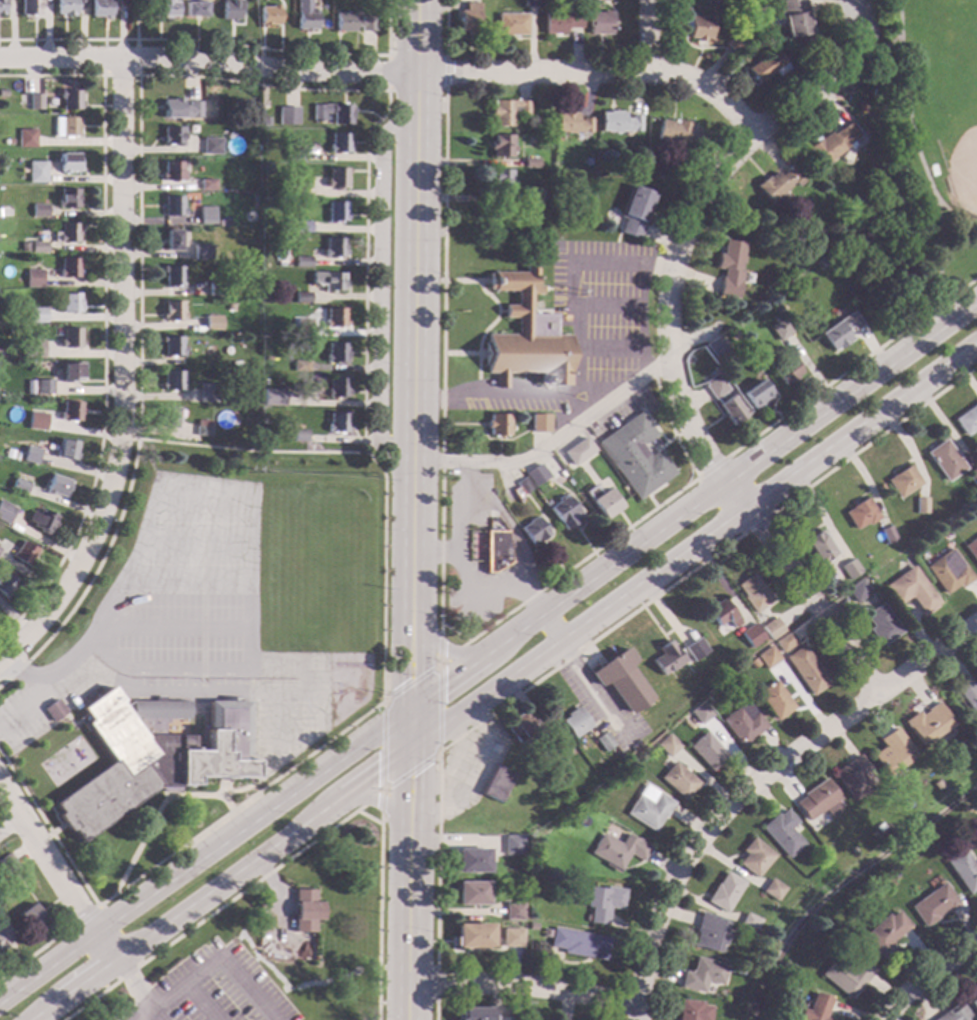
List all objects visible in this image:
building: (600, 0)
building: (530, 3)
building: (29, 7)
building: (65, 7)
building: (1, 8)
building: (100, 8)
building: (165, 8)
building: (194, 9)
building: (230, 10)
building: (268, 16)
building: (304, 16)
building: (794, 17)
building: (469, 18)
road: (137, 19)
building: (560, 21)
building: (352, 23)
building: (600, 23)
building: (511, 24)
building: (697, 27)
road: (446, 28)
road: (647, 35)
building: (755, 41)
road: (222, 42)
building: (734, 42)
road: (881, 49)
building: (745, 53)
road: (211, 59)
building: (767, 66)
road: (597, 70)
road: (388, 72)
road: (445, 72)
road: (139, 74)
building: (20, 94)
building: (70, 98)
building: (35, 101)
building: (181, 109)
building: (504, 111)
building: (334, 113)
building: (288, 115)
building: (265, 121)
building: (570, 123)
building: (618, 123)
building: (70, 126)
building: (679, 133)
building: (173, 135)
building: (27, 138)
park: (956, 138)
building: (7, 141)
building: (340, 143)
building: (831, 143)
building: (212, 146)
building: (500, 146)
building: (295, 155)
road: (919, 156)
park: (927, 159)
building: (587, 161)
building: (69, 162)
building: (529, 163)
building: (36, 171)
building: (173, 172)
building: (337, 178)
building: (500, 181)
building: (778, 183)
building: (207, 184)
building: (295, 191)
building: (254, 196)
building: (532, 196)
building: (69, 199)
building: (173, 206)
road: (365, 209)
building: (40, 210)
building: (634, 211)
building: (336, 212)
road: (953, 213)
building: (207, 219)
building: (303, 227)
building: (290, 229)
building: (67, 233)
building: (172, 240)
building: (24, 246)
building: (38, 247)
building: (334, 248)
building: (202, 253)
building: (303, 261)
building: (728, 262)
building: (70, 268)
building: (173, 276)
building: (33, 278)
road: (574, 279)
building: (251, 280)
road: (464, 280)
building: (329, 281)
road: (379, 287)
building: (216, 289)
building: (302, 298)
building: (71, 302)
building: (713, 304)
road: (606, 307)
building: (251, 308)
building: (173, 311)
building: (37, 315)
road: (103, 318)
building: (335, 318)
road: (638, 321)
building: (213, 323)
road: (485, 327)
parking lot: (583, 327)
building: (303, 328)
building: (779, 330)
building: (839, 332)
building: (525, 335)
building: (72, 338)
road: (667, 338)
building: (172, 346)
building: (715, 346)
building: (32, 348)
road: (606, 350)
building: (336, 353)
road: (462, 353)
road: (415, 354)
building: (235, 363)
building: (300, 366)
road: (851, 368)
building: (785, 370)
building: (71, 372)
road: (119, 378)
building: (173, 381)
road: (497, 382)
building: (714, 386)
building: (43, 387)
building: (337, 388)
building: (207, 393)
road: (492, 394)
building: (755, 394)
road: (594, 395)
building: (272, 397)
building: (730, 410)
building: (71, 411)
building: (169, 417)
building: (38, 419)
building: (967, 420)
building: (338, 423)
building: (539, 424)
building: (497, 425)
building: (203, 428)
building: (299, 436)
road: (872, 439)
road: (550, 443)
building: (66, 449)
road: (241, 450)
building: (576, 451)
building: (8, 455)
building: (31, 455)
building: (564, 456)
building: (634, 456)
building: (944, 460)
road: (711, 467)
road: (735, 474)
building: (535, 475)
building: (972, 476)
building: (903, 481)
road: (750, 482)
building: (20, 485)
building: (55, 485)
building: (522, 486)
road: (173, 494)
building: (601, 501)
building: (920, 505)
road: (717, 506)
building: (5, 512)
building: (564, 513)
building: (860, 514)
building: (44, 521)
road: (754, 523)
building: (532, 530)
park: (319, 533)
building: (887, 535)
road: (195, 544)
road: (693, 544)
building: (817, 547)
building: (0, 549)
building: (972, 549)
road: (436, 550)
building: (494, 550)
building: (25, 553)
parking lot: (472, 558)
road: (518, 558)
building: (863, 559)
building: (848, 569)
road: (440, 571)
building: (948, 571)
road: (185, 584)
building: (6, 585)
parking lot: (184, 585)
building: (856, 590)
building: (911, 590)
road: (495, 591)
building: (751, 593)
road: (201, 598)
building: (721, 613)
building: (881, 624)
road: (173, 626)
building: (771, 628)
building: (750, 636)
building: (785, 641)
road: (439, 642)
building: (694, 649)
road: (445, 650)
building: (665, 657)
building: (766, 657)
road: (439, 661)
building: (752, 663)
building: (806, 670)
road: (230, 671)
road: (453, 679)
building: (620, 680)
road: (191, 691)
road: (36, 695)
building: (967, 695)
building: (709, 698)
building: (775, 700)
road: (500, 705)
building: (53, 710)
traffic signals: (412, 710)
building: (700, 713)
building: (574, 722)
building: (926, 723)
building: (742, 724)
road: (277, 725)
building: (517, 727)
road: (411, 729)
road: (41, 731)
parking lot: (284, 732)
building: (603, 742)
building: (667, 745)
traffic signals: (411, 749)
building: (707, 751)
building: (891, 753)
building: (150, 756)
building: (555, 777)
building: (851, 777)
building: (678, 780)
road: (753, 781)
building: (493, 783)
road: (410, 792)
road: (222, 796)
road: (373, 798)
building: (817, 801)
road: (160, 802)
road: (380, 802)
building: (648, 808)
road: (52, 815)
road: (10, 825)
road: (56, 828)
building: (781, 833)
building: (511, 845)
building: (618, 850)
road: (206, 856)
building: (753, 857)
building: (471, 861)
building: (7, 863)
building: (962, 871)
road: (57, 873)
road: (220, 884)
building: (771, 890)
building: (723, 892)
building: (470, 893)
building: (602, 903)
building: (931, 905)
road: (220, 907)
building: (303, 911)
building: (513, 912)
building: (29, 915)
road: (378, 917)
road: (81, 918)
building: (748, 922)
road: (408, 927)
building: (708, 933)
building: (883, 934)
building: (472, 936)
building: (4, 937)
building: (511, 938)
building: (579, 944)
road: (33, 953)
road: (213, 955)
road: (86, 958)
building: (701, 975)
road: (926, 975)
building: (845, 976)
road: (436, 983)
road: (129, 984)
road: (523, 985)
parking lot: (217, 987)
road: (198, 1000)
building: (974, 1003)
road: (435, 1008)
building: (814, 1008)
building: (691, 1010)
building: (954, 1013)
road: (139, 1014)
road: (148, 1014)
building: (473, 1014)
building: (503, 1019)

